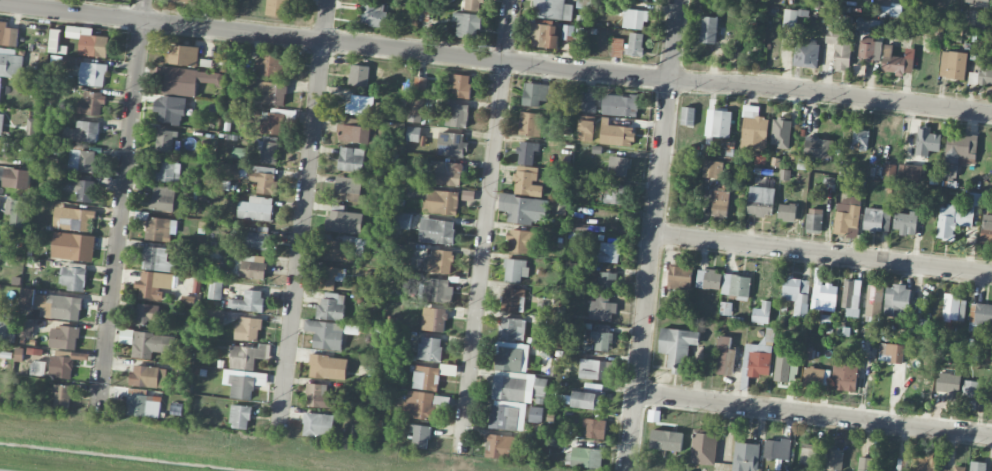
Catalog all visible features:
building: (979, 0)
building: (191, 1)
power tower: (128, 5)
building: (473, 5)
building: (277, 8)
building: (552, 9)
building: (374, 14)
building: (789, 18)
building: (634, 19)
building: (467, 25)
building: (866, 25)
power tower: (336, 28)
building: (708, 30)
building: (8, 35)
building: (545, 36)
road: (674, 40)
road: (335, 41)
building: (56, 42)
building: (89, 42)
building: (634, 44)
power tower: (491, 46)
building: (839, 46)
building: (617, 47)
building: (869, 50)
building: (806, 55)
building: (182, 56)
building: (57, 61)
building: (898, 61)
building: (10, 63)
power tower: (655, 64)
building: (953, 65)
building: (271, 66)
building: (859, 70)
building: (92, 74)
building: (981, 74)
building: (358, 75)
building: (187, 81)
power tower: (848, 83)
building: (419, 86)
building: (460, 86)
building: (535, 94)
road: (831, 94)
building: (588, 101)
building: (91, 104)
building: (360, 105)
building: (620, 105)
building: (169, 109)
building: (415, 109)
building: (456, 115)
building: (687, 116)
building: (1, 122)
building: (270, 123)
building: (718, 123)
building: (530, 124)
building: (32, 129)
building: (586, 130)
building: (84, 132)
building: (753, 132)
building: (780, 133)
building: (357, 134)
building: (413, 134)
building: (616, 134)
building: (860, 140)
building: (165, 141)
building: (926, 141)
building: (451, 145)
building: (819, 148)
building: (960, 148)
building: (268, 149)
building: (527, 153)
building: (351, 159)
building: (82, 161)
building: (618, 166)
building: (167, 169)
building: (889, 172)
building: (448, 174)
building: (908, 174)
building: (263, 178)
building: (18, 179)
building: (527, 182)
building: (81, 189)
building: (346, 190)
building: (616, 194)
building: (162, 198)
building: (438, 200)
building: (759, 201)
building: (720, 204)
road: (120, 206)
road: (302, 208)
building: (256, 209)
building: (523, 209)
building: (18, 212)
building: (787, 213)
building: (847, 216)
building: (956, 217)
building: (76, 219)
building: (343, 220)
building: (402, 220)
building: (877, 220)
building: (814, 221)
building: (905, 223)
road: (486, 226)
building: (159, 229)
building: (986, 230)
building: (437, 231)
building: (256, 239)
building: (523, 241)
building: (73, 246)
building: (576, 249)
building: (337, 250)
building: (610, 253)
road: (822, 254)
building: (157, 260)
building: (440, 261)
building: (249, 266)
building: (515, 270)
road: (647, 276)
building: (330, 277)
building: (680, 277)
building: (74, 278)
building: (708, 280)
building: (605, 281)
building: (153, 285)
building: (735, 286)
building: (215, 290)
building: (437, 290)
building: (796, 294)
building: (823, 296)
building: (851, 298)
building: (513, 300)
building: (248, 301)
building: (872, 301)
building: (896, 301)
building: (52, 305)
building: (331, 307)
building: (602, 308)
building: (725, 308)
building: (953, 308)
building: (147, 312)
building: (761, 313)
building: (981, 313)
building: (218, 316)
building: (433, 319)
building: (15, 327)
building: (918, 328)
building: (248, 329)
building: (511, 329)
building: (563, 332)
building: (325, 335)
building: (601, 337)
building: (63, 338)
building: (148, 343)
building: (676, 346)
building: (429, 349)
building: (891, 353)
building: (247, 356)
building: (512, 357)
building: (725, 357)
building: (758, 358)
building: (64, 363)
building: (328, 367)
building: (38, 368)
building: (783, 368)
building: (594, 369)
building: (845, 375)
building: (148, 376)
building: (816, 377)
building: (425, 378)
building: (239, 384)
building: (517, 386)
building: (949, 386)
building: (62, 396)
building: (971, 396)
building: (320, 397)
building: (589, 398)
building: (991, 404)
building: (142, 405)
building: (421, 405)
building: (535, 414)
road: (813, 415)
building: (239, 417)
building: (504, 417)
building: (318, 425)
building: (594, 429)
building: (420, 436)
building: (666, 440)
building: (499, 447)
building: (703, 449)
building: (776, 449)
building: (809, 455)
building: (584, 457)
building: (745, 457)
building: (834, 459)
building: (923, 461)
building: (865, 464)
building: (977, 466)
building: (958, 468)

